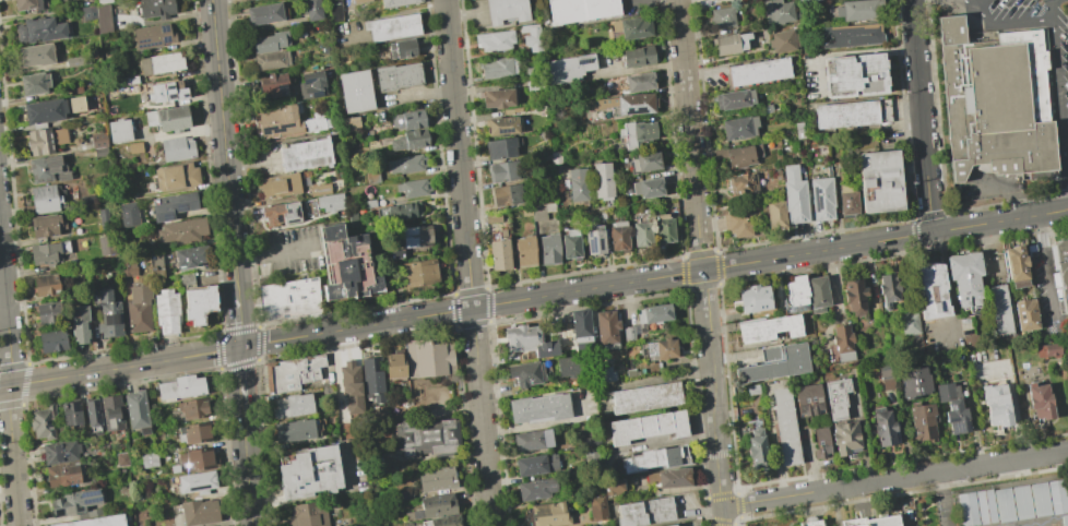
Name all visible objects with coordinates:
building: (57, 0)
building: (713, 0)
building: (102, 1)
building: (358, 1)
building: (806, 1)
road: (924, 1)
building: (396, 2)
building: (28, 4)
building: (154, 8)
building: (311, 10)
building: (579, 10)
building: (859, 10)
building: (506, 11)
building: (776, 11)
building: (87, 12)
building: (335, 13)
building: (264, 14)
building: (103, 17)
building: (721, 17)
road: (1006, 25)
rooftop solar panel: (163, 27)
building: (392, 27)
building: (631, 27)
building: (38, 29)
building: (849, 35)
building: (152, 37)
building: (531, 37)
rooftop solar panel: (143, 39)
rooftop solar panel: (164, 39)
building: (495, 40)
building: (782, 40)
building: (268, 41)
building: (734, 43)
rooftop solar panel: (146, 44)
building: (401, 48)
building: (35, 55)
building: (634, 56)
building: (76, 60)
building: (271, 60)
rooftop solar panel: (583, 61)
building: (161, 63)
building: (497, 67)
building: (533, 71)
building: (561, 71)
rooftop solar panel: (744, 71)
building: (757, 71)
building: (853, 74)
building: (397, 76)
road: (1057, 77)
building: (129, 80)
building: (639, 82)
building: (34, 83)
building: (272, 84)
building: (310, 84)
rooftop solar panel: (169, 86)
rooftop solar panel: (282, 89)
building: (356, 91)
building: (166, 92)
rooftop solar panel: (169, 95)
rooftop solar panel: (182, 95)
building: (498, 98)
building: (733, 99)
building: (999, 103)
building: (75, 104)
building: (634, 104)
building: (602, 108)
road: (687, 108)
rooftop solar panel: (636, 109)
building: (44, 110)
parking lot: (1060, 110)
building: (851, 113)
road: (921, 116)
building: (168, 119)
building: (410, 120)
building: (276, 122)
building: (316, 122)
building: (351, 122)
building: (501, 125)
building: (737, 128)
building: (119, 130)
building: (636, 133)
building: (59, 135)
building: (98, 140)
building: (408, 140)
building: (38, 141)
road: (224, 144)
building: (132, 147)
building: (500, 147)
building: (177, 148)
building: (100, 152)
building: (305, 154)
building: (737, 155)
road: (1066, 158)
building: (642, 163)
building: (406, 164)
building: (46, 169)
building: (503, 171)
building: (175, 176)
building: (371, 177)
building: (601, 180)
building: (879, 181)
building: (743, 183)
building: (278, 184)
building: (414, 187)
building: (577, 187)
building: (646, 188)
building: (319, 189)
road: (1005, 191)
building: (505, 194)
building: (550, 195)
building: (794, 195)
building: (539, 198)
building: (44, 199)
building: (820, 199)
building: (88, 200)
rooftop solar panel: (817, 201)
building: (846, 201)
building: (330, 202)
building: (173, 205)
rooftop solar panel: (182, 207)
building: (403, 212)
building: (539, 212)
building: (281, 213)
building: (128, 214)
building: (774, 215)
rooftop solar panel: (168, 216)
building: (103, 218)
building: (736, 219)
building: (45, 225)
building: (663, 228)
building: (180, 231)
building: (641, 234)
building: (497, 235)
building: (617, 235)
building: (415, 237)
building: (594, 240)
road: (697, 243)
road: (704, 243)
building: (106, 244)
building: (570, 244)
rooftop solar panel: (597, 244)
rooftop solar panel: (590, 247)
building: (548, 249)
road: (987, 250)
parking lot: (288, 251)
building: (524, 251)
building: (45, 253)
road: (274, 253)
building: (498, 254)
building: (190, 255)
road: (467, 263)
building: (155, 264)
building: (345, 264)
road: (1045, 266)
building: (128, 267)
building: (1017, 267)
building: (1063, 270)
building: (417, 273)
road: (653, 278)
building: (965, 278)
building: (45, 285)
building: (888, 288)
parking lot: (1048, 289)
building: (931, 291)
building: (795, 294)
building: (818, 294)
building: (753, 298)
building: (855, 298)
building: (292, 299)
building: (198, 302)
building: (139, 308)
building: (877, 309)
building: (166, 310)
building: (1000, 310)
building: (49, 312)
building: (108, 314)
building: (655, 314)
building: (1027, 315)
road: (238, 319)
building: (79, 324)
building: (911, 324)
building: (581, 328)
building: (606, 328)
building: (768, 328)
building: (630, 334)
building: (51, 340)
building: (971, 340)
building: (1066, 340)
building: (529, 342)
building: (843, 344)
traffic signals: (240, 347)
building: (662, 349)
building: (1047, 350)
building: (430, 357)
building: (1067, 359)
building: (775, 363)
building: (572, 364)
building: (394, 366)
road: (120, 367)
building: (630, 369)
building: (886, 371)
building: (1067, 371)
building: (296, 372)
building: (525, 373)
building: (603, 374)
building: (371, 376)
road: (241, 378)
road: (11, 383)
building: (914, 383)
building: (349, 386)
building: (180, 387)
building: (753, 390)
building: (645, 398)
road: (714, 398)
building: (838, 398)
building: (809, 401)
building: (1041, 402)
building: (296, 406)
building: (996, 406)
rooftop solar panel: (951, 407)
building: (192, 408)
building: (537, 408)
building: (953, 408)
building: (137, 410)
building: (71, 413)
building: (92, 413)
building: (111, 413)
rooftop solar panel: (949, 421)
building: (44, 422)
building: (922, 422)
rooftop solar panel: (956, 427)
building: (648, 428)
building: (785, 428)
building: (883, 428)
building: (192, 432)
building: (298, 432)
building: (428, 438)
building: (531, 439)
building: (846, 439)
road: (977, 439)
building: (821, 443)
building: (757, 449)
building: (61, 451)
building: (121, 459)
building: (147, 459)
building: (195, 459)
building: (656, 459)
building: (535, 465)
road: (247, 468)
building: (308, 471)
building: (63, 474)
building: (436, 478)
building: (671, 479)
road: (894, 479)
building: (195, 481)
building: (535, 489)
building: (614, 489)
rooftop solar panel: (87, 494)
building: (563, 494)
building: (1058, 497)
rooftop solar panel: (91, 501)
building: (1040, 501)
building: (73, 502)
building: (1022, 503)
building: (437, 505)
building: (1004, 506)
building: (985, 507)
building: (597, 509)
building: (968, 510)
building: (198, 512)
building: (646, 513)
building: (545, 514)
building: (306, 515)
building: (95, 521)
building: (446, 521)
building: (1065, 521)
building: (875, 522)
building: (811, 524)
building: (674, 525)

